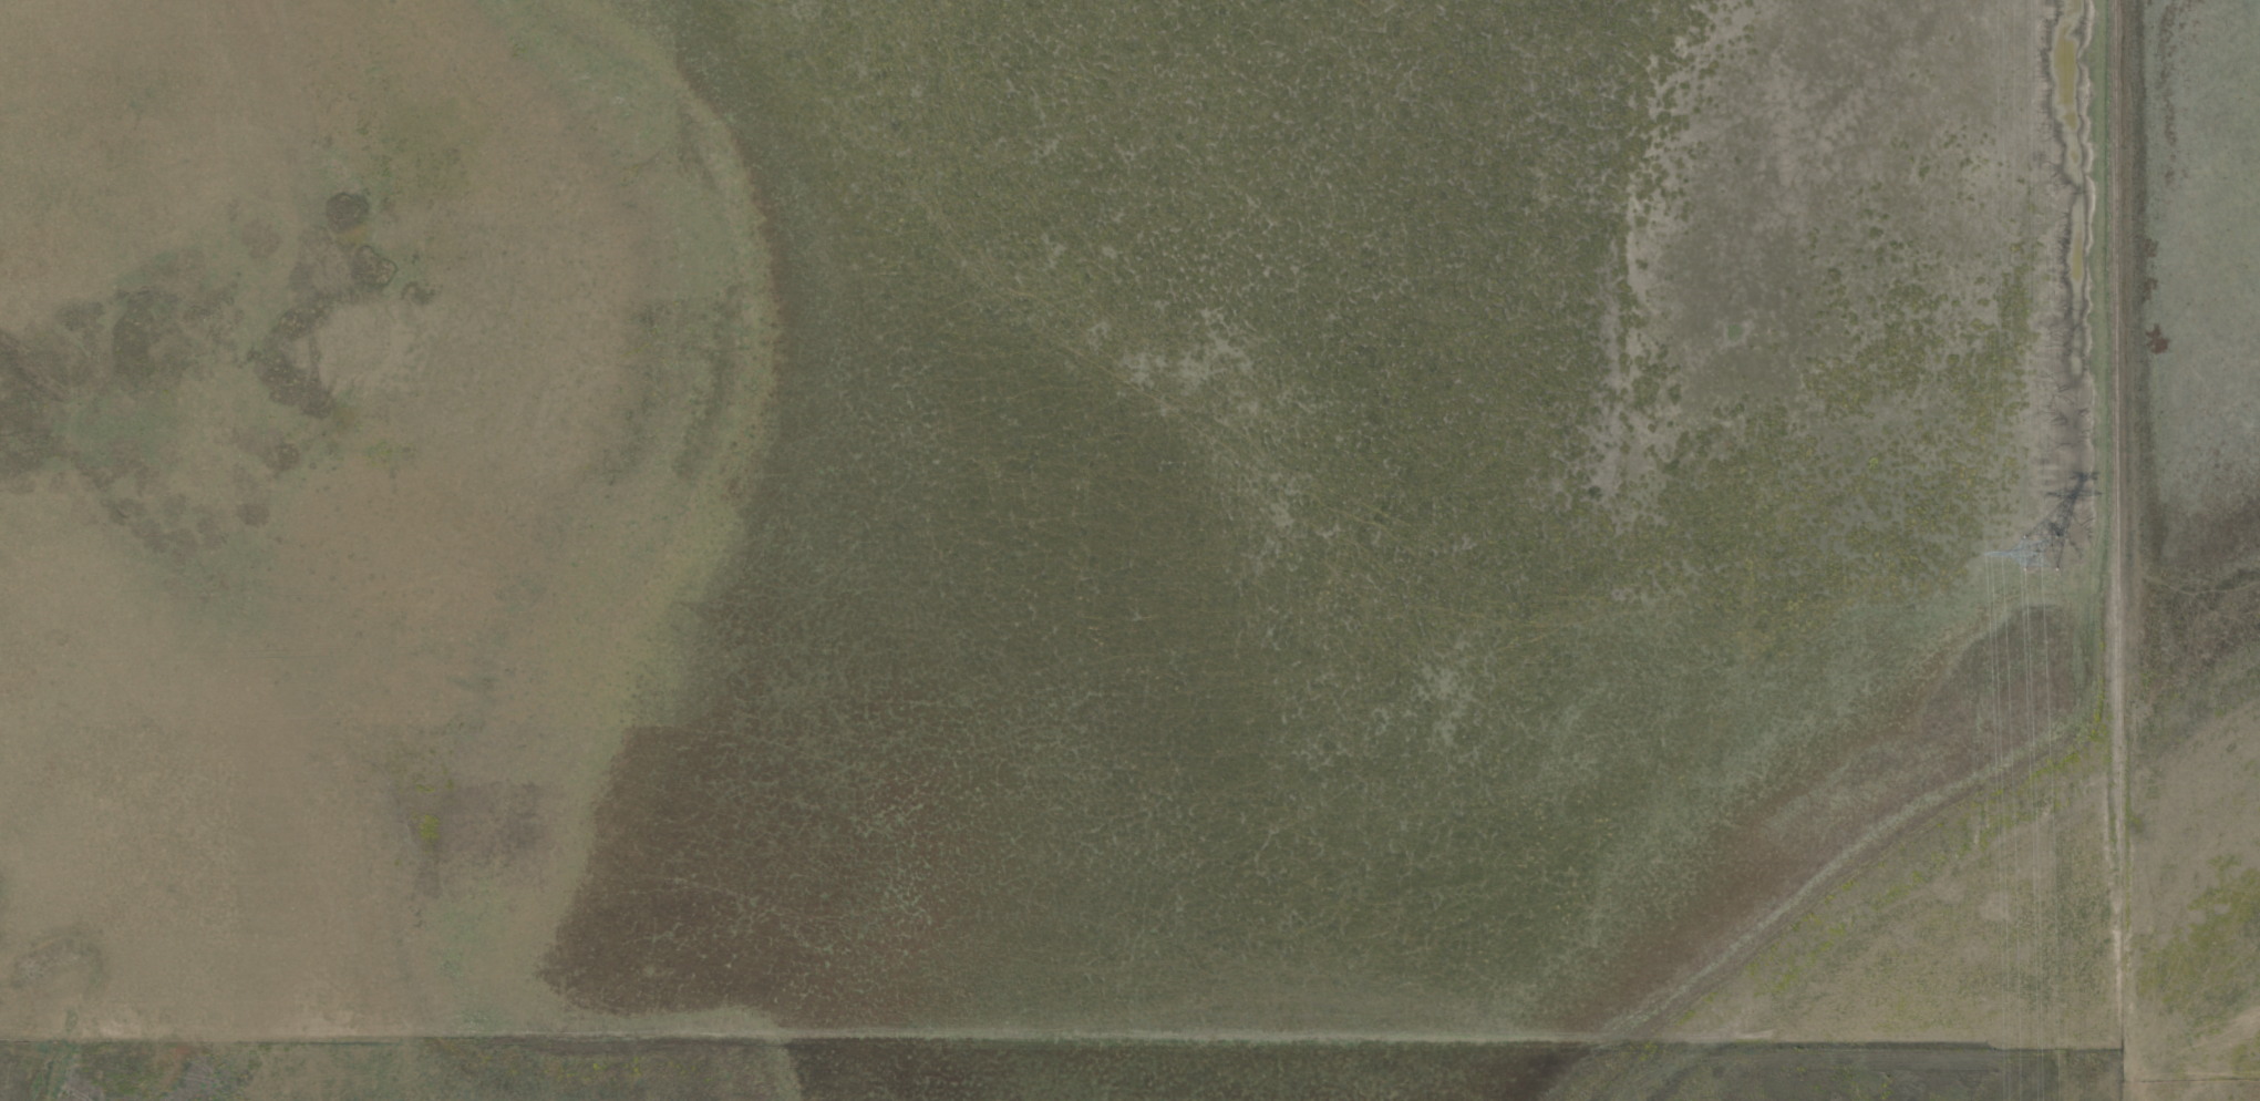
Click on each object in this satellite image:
power tower: (2037, 552)

